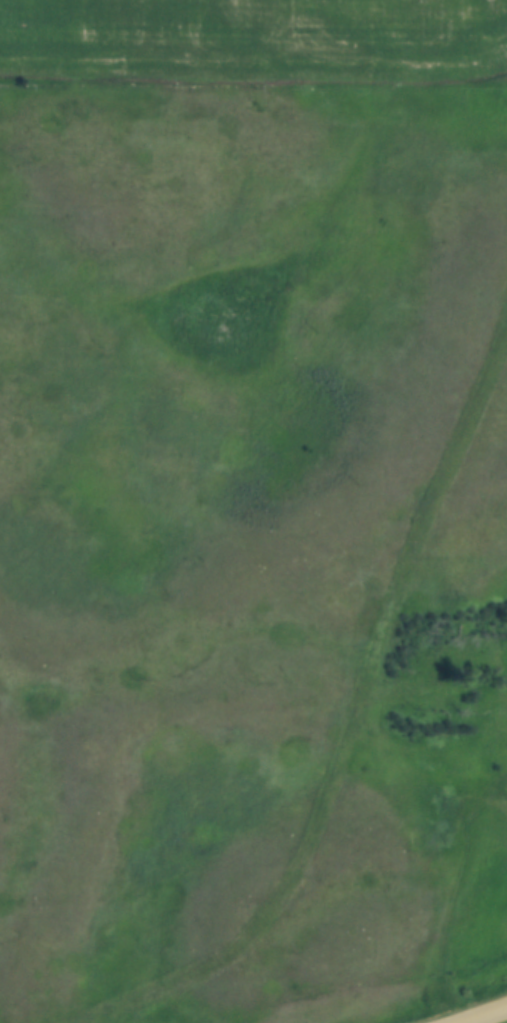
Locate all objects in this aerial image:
road: (488, 1017)

